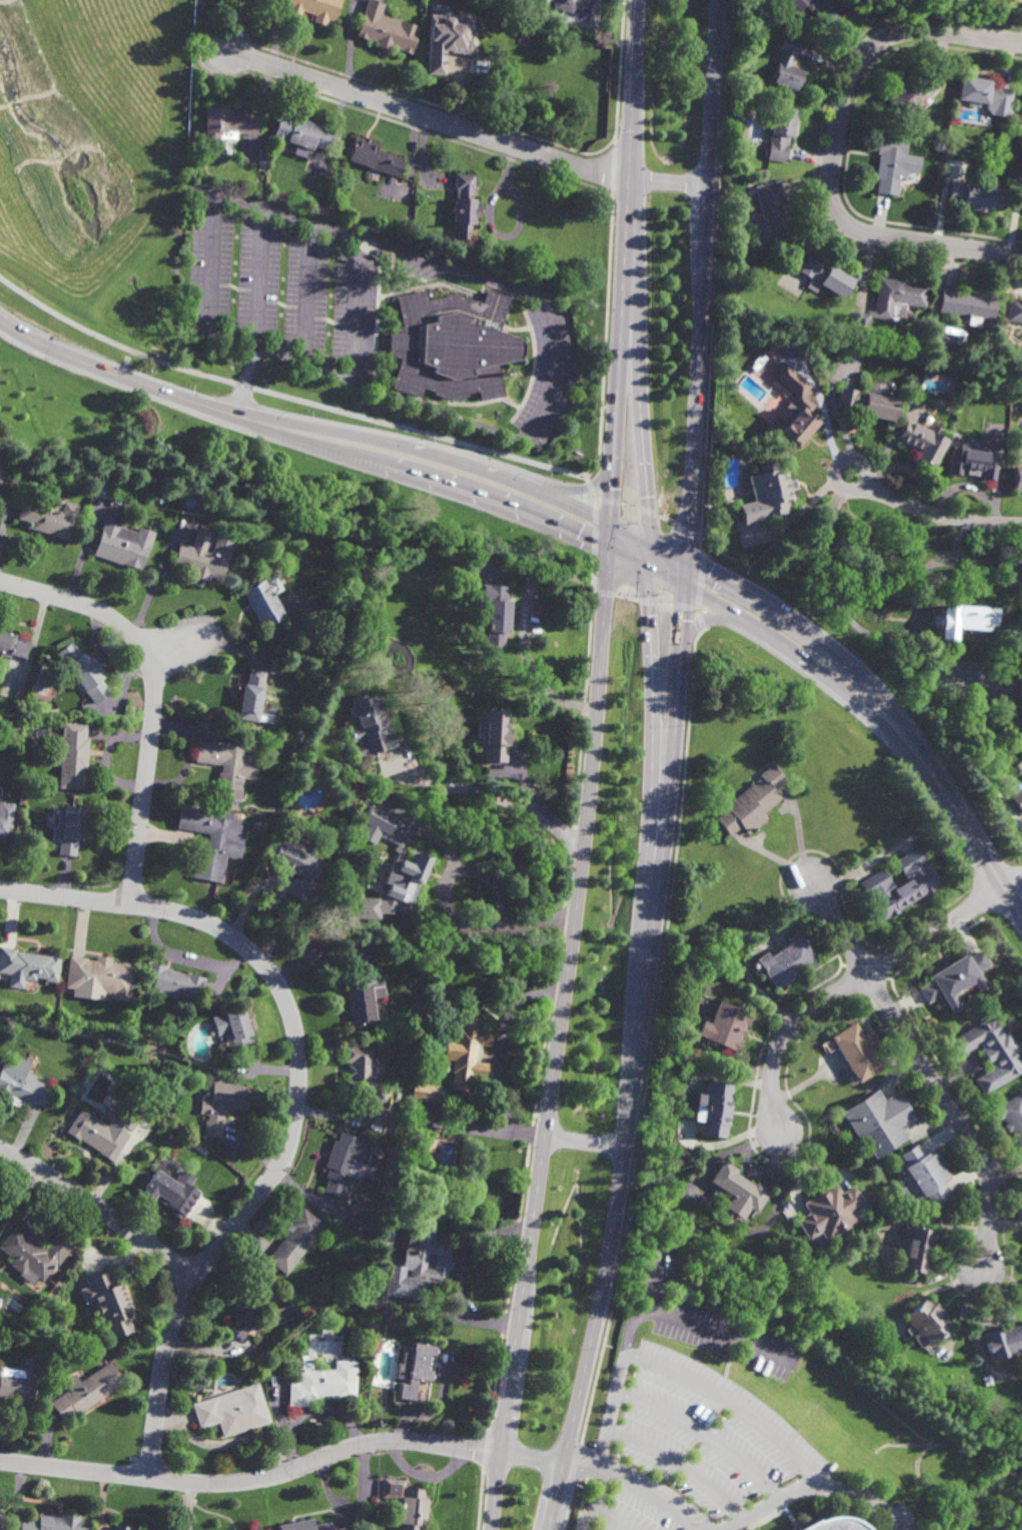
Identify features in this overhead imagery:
building: (541, 1)
building: (806, 1)
building: (570, 4)
building: (314, 8)
building: (824, 12)
building: (386, 28)
building: (446, 41)
road: (200, 58)
building: (788, 65)
road: (616, 74)
building: (983, 93)
building: (910, 95)
building: (229, 119)
road: (462, 128)
building: (301, 132)
building: (781, 133)
road: (835, 145)
building: (373, 155)
building: (889, 162)
road: (607, 171)
building: (975, 194)
road: (163, 200)
building: (465, 204)
building: (1021, 209)
building: (772, 214)
road: (308, 225)
road: (210, 261)
road: (623, 267)
road: (714, 269)
building: (825, 275)
road: (306, 295)
building: (892, 299)
building: (968, 304)
building: (1015, 310)
road: (352, 311)
road: (254, 314)
building: (911, 316)
road: (603, 338)
building: (451, 344)
building: (904, 368)
road: (284, 395)
road: (640, 395)
building: (977, 397)
building: (867, 402)
building: (801, 404)
building: (949, 406)
road: (821, 407)
road: (834, 410)
road: (540, 418)
road: (299, 434)
building: (922, 440)
park: (198, 447)
road: (848, 458)
building: (974, 460)
building: (1018, 479)
road: (589, 484)
building: (768, 494)
road: (594, 495)
road: (596, 499)
road: (610, 500)
road: (629, 506)
road: (648, 512)
road: (796, 513)
road: (939, 515)
building: (47, 519)
road: (666, 519)
road: (687, 530)
road: (594, 534)
traffic signals: (609, 534)
road: (617, 538)
building: (123, 545)
road: (644, 553)
building: (1015, 554)
building: (203, 556)
road: (931, 562)
traffic signals: (687, 578)
road: (871, 597)
building: (262, 604)
building: (493, 616)
building: (966, 620)
road: (262, 638)
building: (12, 646)
road: (176, 646)
building: (84, 672)
road: (153, 695)
road: (864, 696)
building: (251, 697)
building: (370, 726)
building: (491, 737)
building: (73, 757)
building: (226, 768)
road: (651, 768)
road: (672, 769)
building: (310, 776)
building: (1017, 800)
road: (495, 804)
building: (751, 804)
building: (374, 814)
building: (5, 826)
building: (69, 830)
building: (212, 841)
building: (298, 866)
building: (900, 885)
building: (390, 891)
road: (490, 903)
road: (1013, 904)
road: (838, 927)
road: (184, 959)
building: (789, 959)
building: (442, 962)
building: (28, 965)
building: (100, 976)
building: (956, 978)
road: (858, 979)
building: (173, 983)
building: (363, 993)
building: (725, 1025)
road: (558, 1032)
building: (237, 1033)
building: (856, 1051)
building: (466, 1052)
building: (991, 1052)
road: (496, 1056)
building: (359, 1070)
building: (20, 1085)
building: (425, 1091)
road: (298, 1096)
building: (381, 1097)
building: (222, 1105)
building: (714, 1109)
road: (954, 1116)
building: (1012, 1118)
building: (878, 1121)
building: (104, 1131)
building: (425, 1144)
road: (583, 1144)
building: (344, 1161)
building: (923, 1176)
building: (739, 1190)
building: (169, 1191)
road: (99, 1208)
building: (831, 1213)
building: (353, 1220)
building: (295, 1241)
building: (916, 1250)
building: (34, 1254)
building: (421, 1266)
road: (654, 1281)
building: (110, 1305)
building: (247, 1309)
building: (927, 1322)
building: (1003, 1342)
road: (625, 1343)
building: (415, 1370)
building: (18, 1383)
building: (322, 1385)
building: (87, 1393)
road: (732, 1405)
building: (232, 1411)
road: (703, 1435)
road: (223, 1445)
road: (679, 1468)
road: (284, 1472)
road: (632, 1487)
road: (814, 1487)
building: (407, 1505)
road: (607, 1519)
building: (3, 1522)
building: (55, 1524)
building: (834, 1525)
building: (303, 1526)
building: (119, 1529)
building: (247, 1529)
building: (253, 1529)

